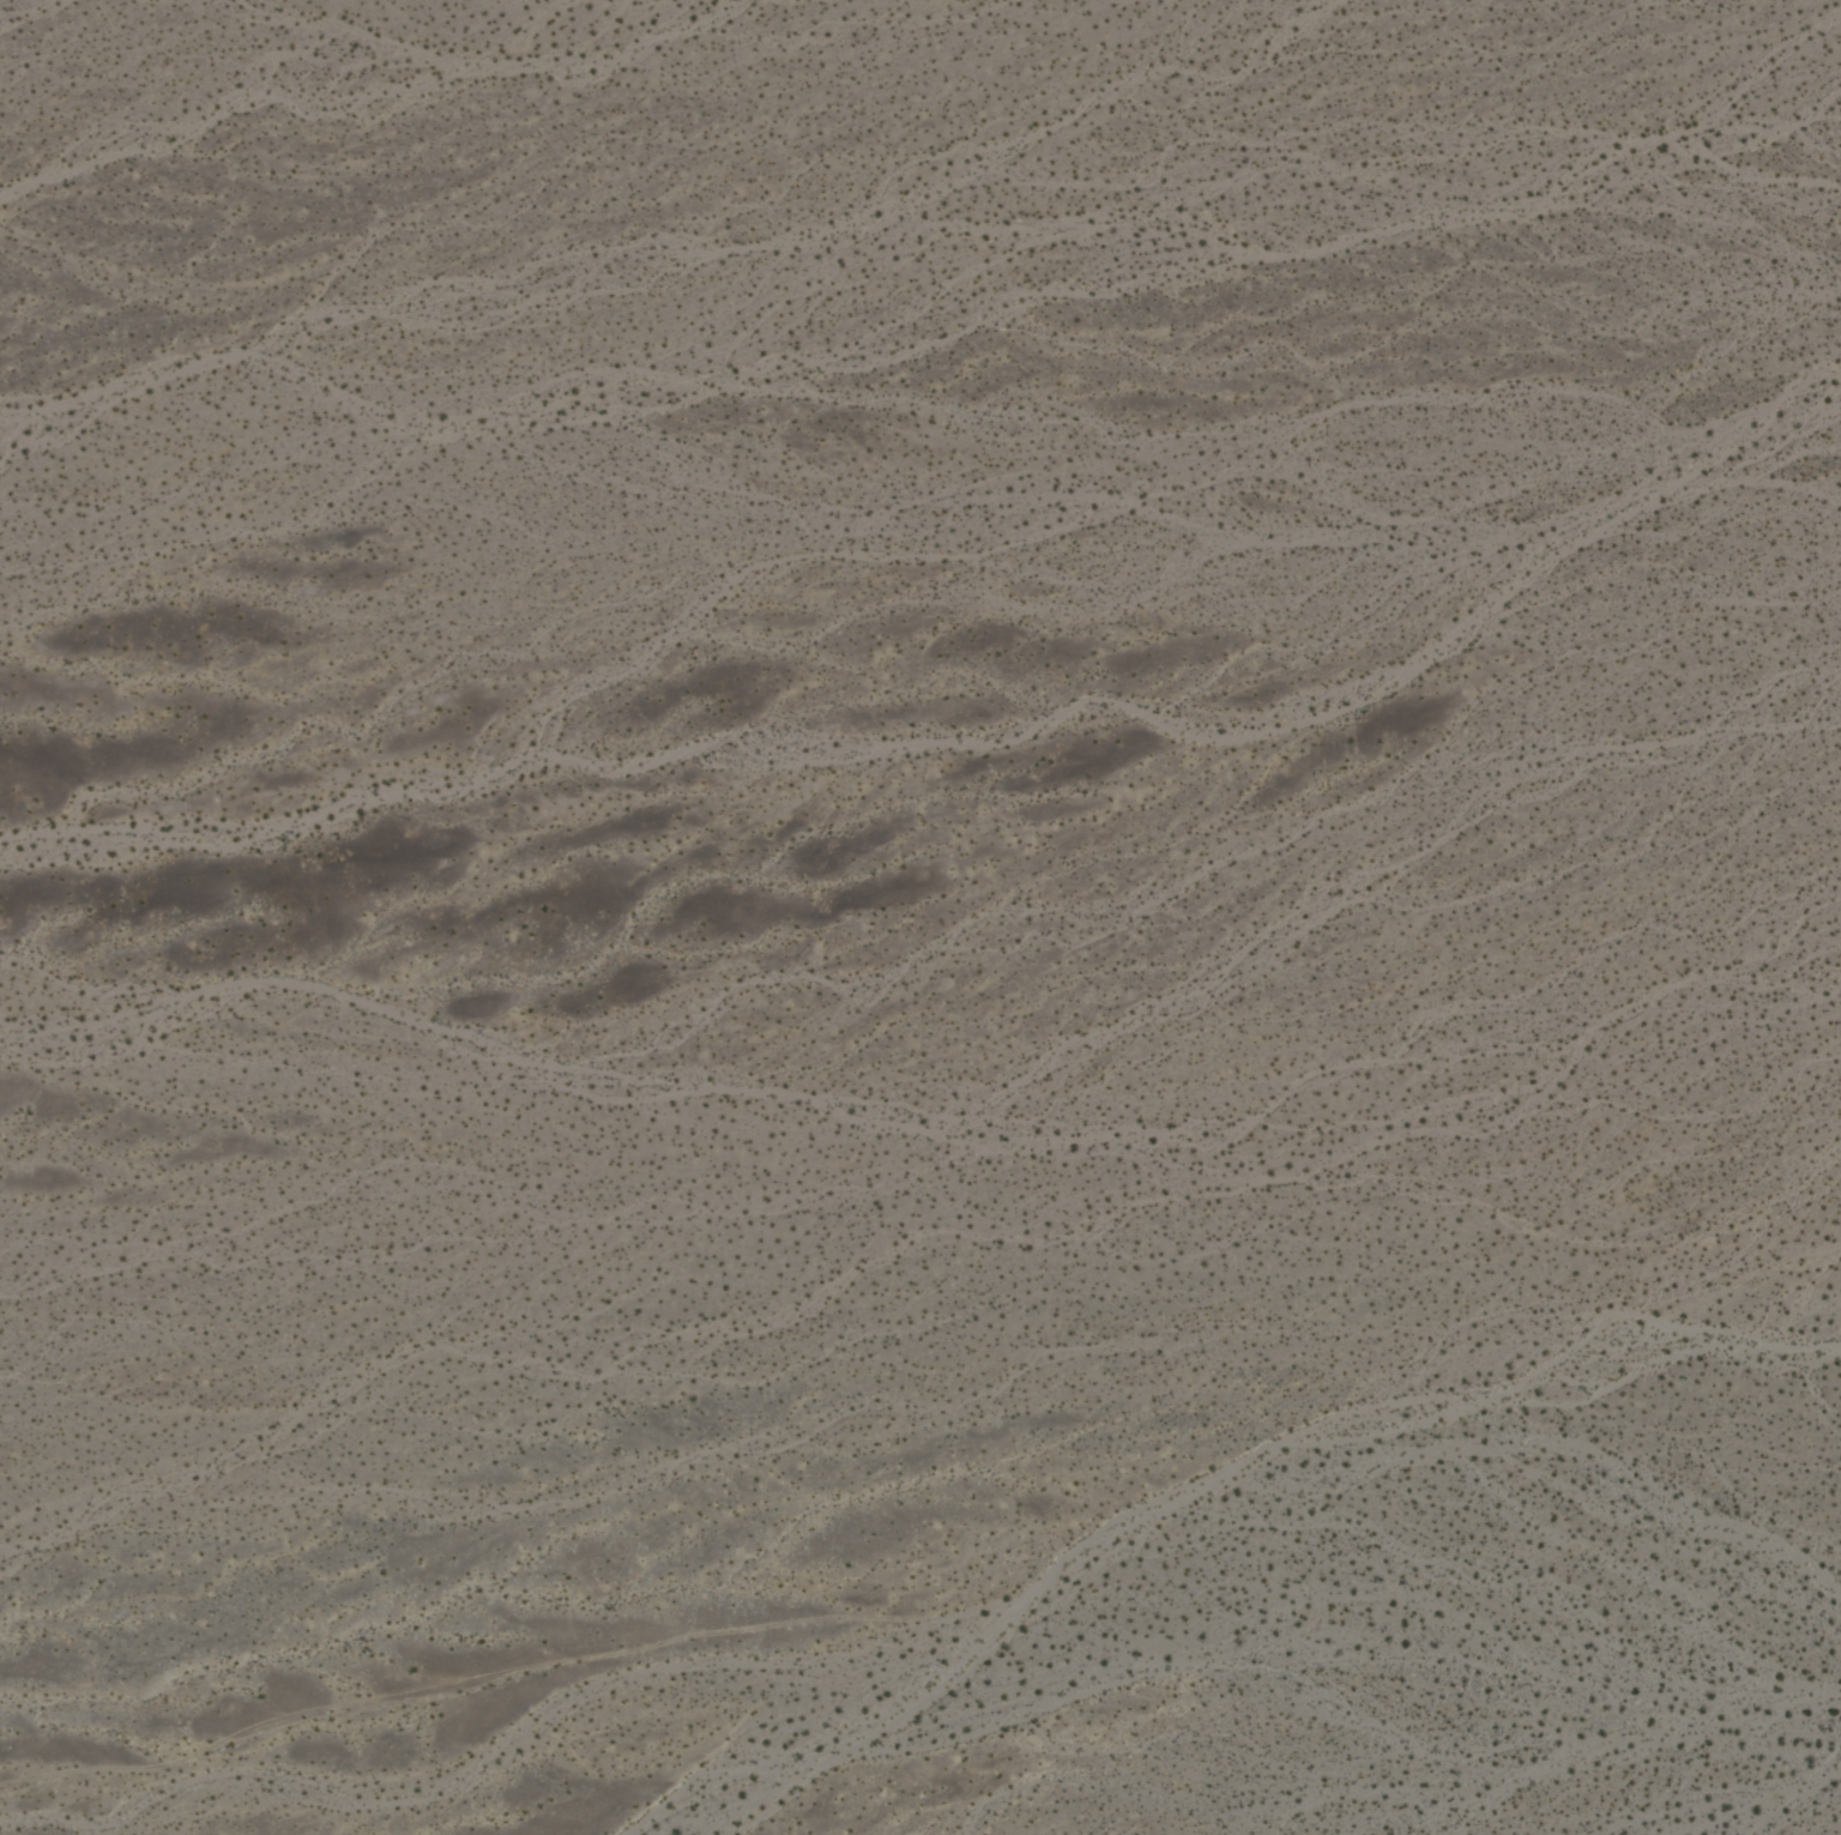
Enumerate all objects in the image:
road: (955, 1622)

